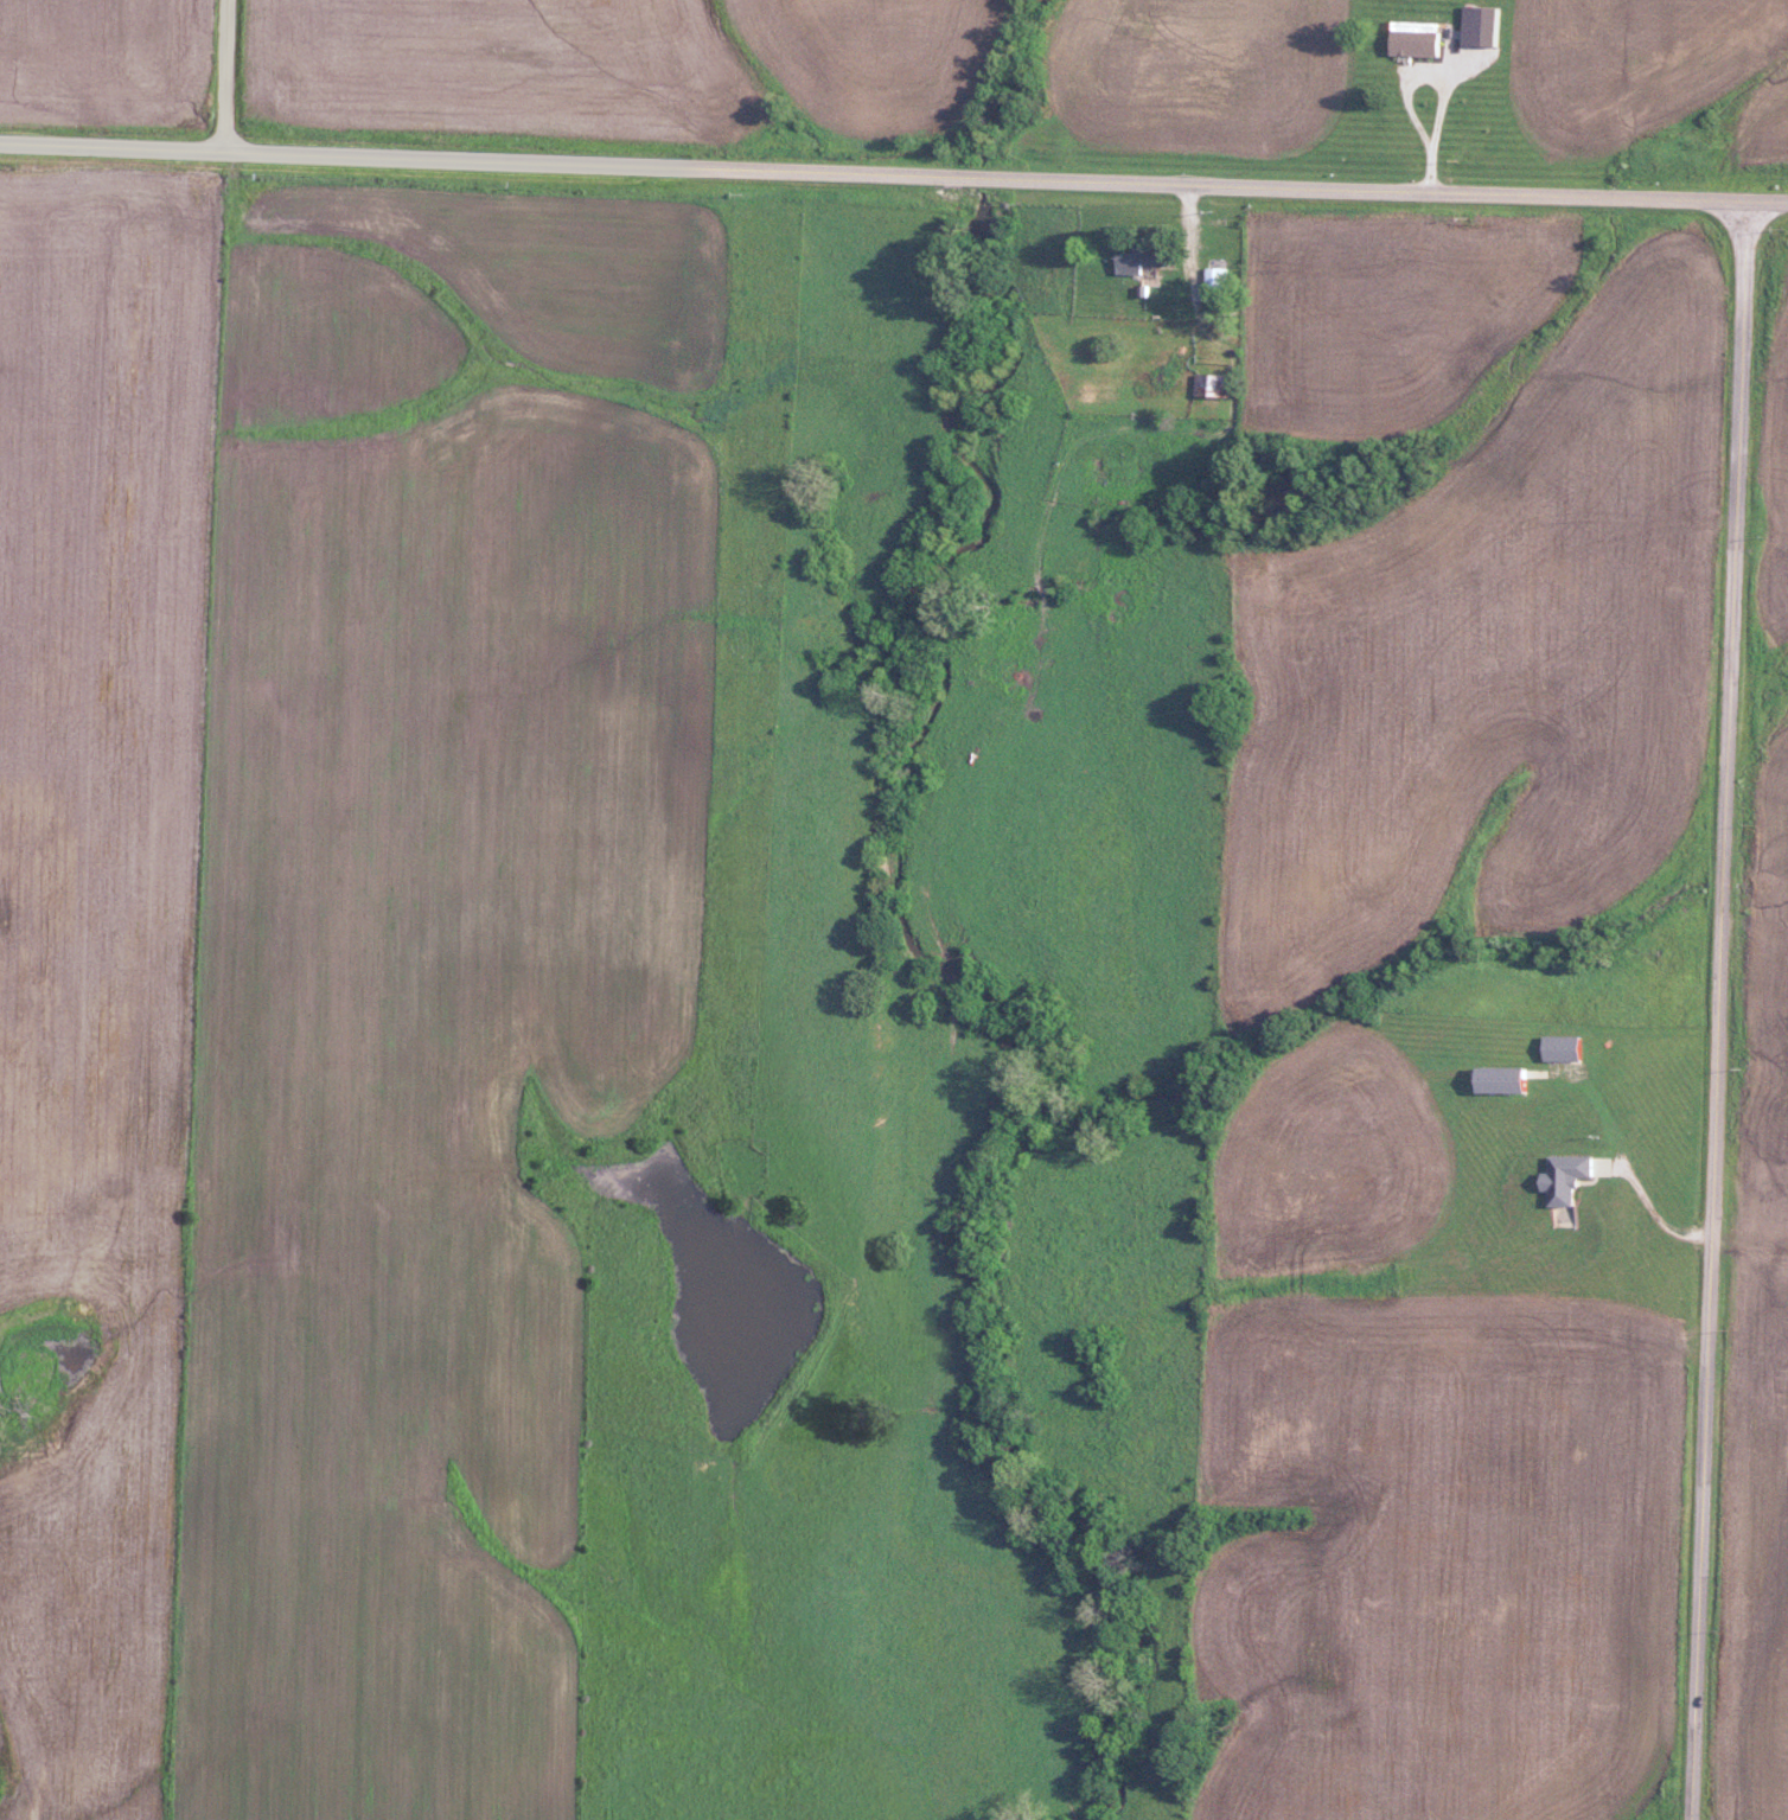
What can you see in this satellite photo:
building: (1473, 25)
building: (1413, 41)
road: (226, 76)
road: (1403, 85)
road: (1430, 167)
road: (893, 173)
building: (1134, 260)
building: (1209, 281)
building: (1205, 384)
road: (1720, 1010)
building: (1493, 1080)
road: (1623, 1160)
building: (1558, 1179)

